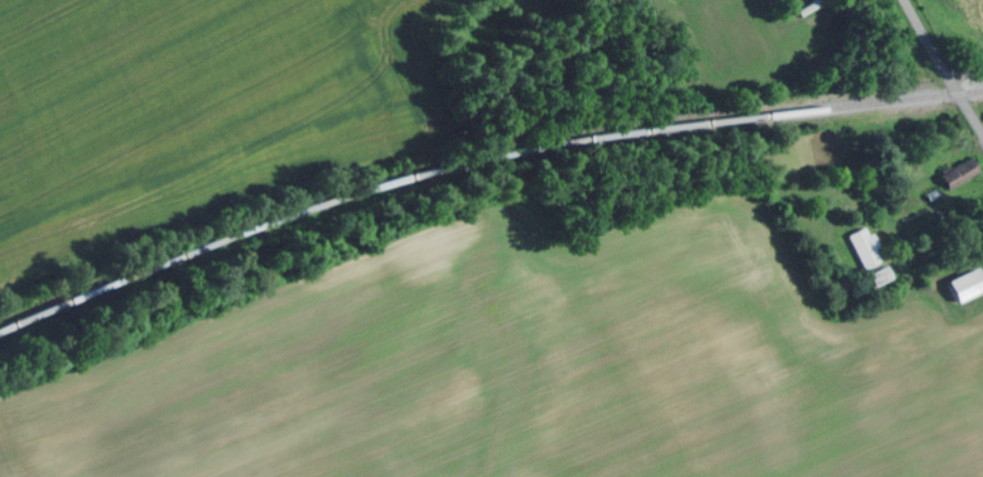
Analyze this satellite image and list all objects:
road: (943, 66)
railway: (478, 159)
building: (962, 175)
building: (869, 248)
building: (969, 286)

